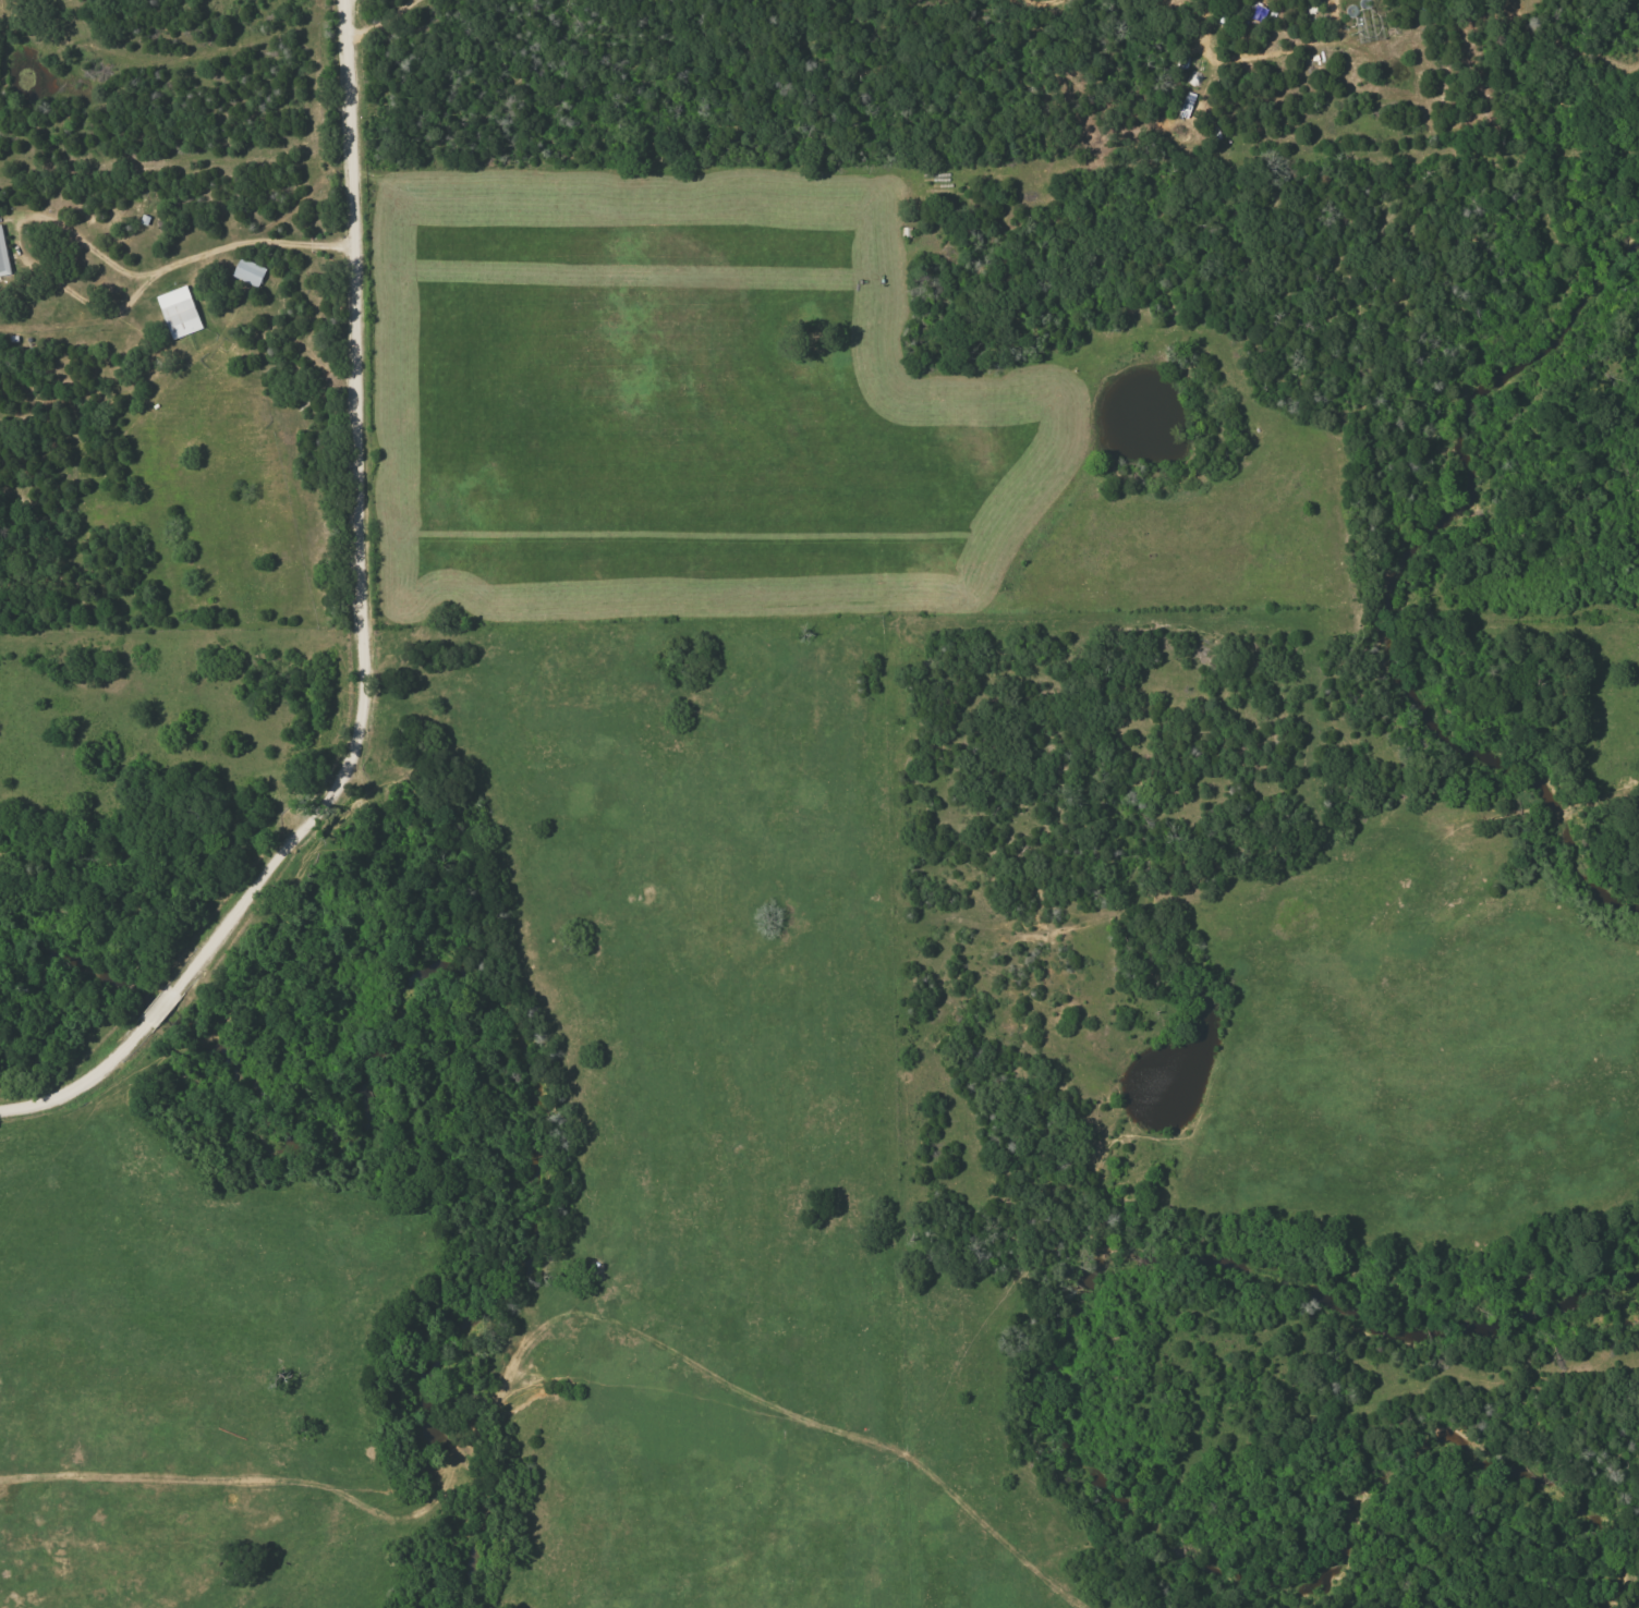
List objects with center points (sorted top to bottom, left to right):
road: (16, 235)
building: (2, 253)
road: (204, 255)
building: (248, 272)
building: (178, 313)
road: (363, 637)
road: (161, 1478)

